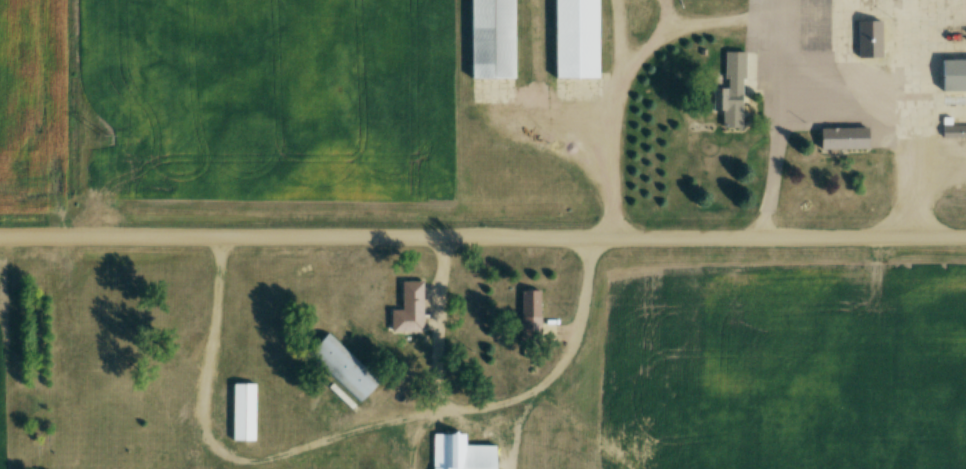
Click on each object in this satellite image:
building: (493, 39)
building: (578, 39)
building: (871, 40)
road: (652, 46)
building: (956, 76)
building: (734, 91)
road: (828, 110)
power tower: (105, 137)
building: (848, 139)
road: (483, 240)
building: (412, 307)
building: (532, 317)
building: (343, 368)
road: (494, 401)
building: (244, 412)
building: (463, 453)
road: (234, 461)

